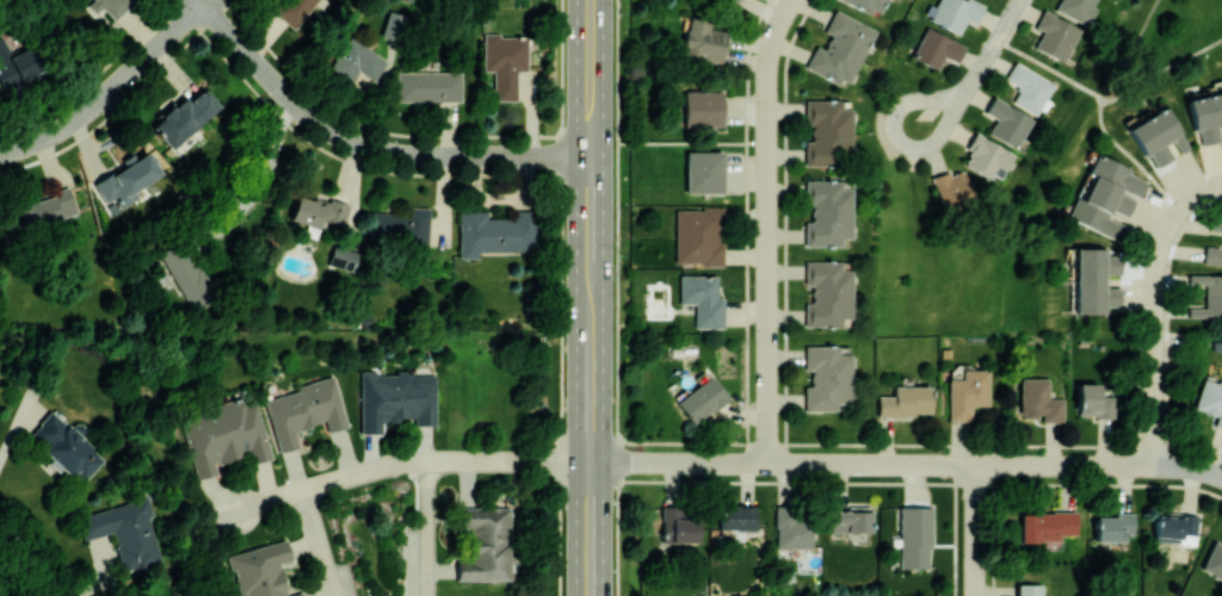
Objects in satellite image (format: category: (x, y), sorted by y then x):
road: (202, 1)
building: (732, 1)
building: (869, 5)
building: (112, 7)
building: (1076, 8)
building: (292, 10)
building: (953, 12)
road: (1011, 15)
building: (393, 24)
building: (1055, 35)
road: (776, 37)
road: (590, 38)
road: (998, 39)
building: (703, 41)
building: (840, 48)
building: (936, 48)
building: (357, 60)
building: (505, 62)
building: (18, 64)
road: (1159, 67)
road: (980, 70)
building: (428, 85)
building: (1029, 87)
road: (106, 88)
building: (1221, 97)
building: (703, 107)
road: (590, 108)
road: (769, 108)
road: (1099, 111)
road: (945, 113)
building: (184, 116)
building: (1205, 116)
building: (1006, 122)
building: (827, 132)
building: (1156, 135)
road: (681, 142)
road: (364, 145)
building: (987, 156)
building: (704, 170)
building: (126, 178)
road: (263, 179)
building: (951, 191)
building: (1106, 195)
road: (590, 203)
road: (769, 204)
building: (47, 207)
building: (317, 212)
building: (827, 212)
building: (401, 225)
building: (494, 231)
building: (698, 235)
building: (1212, 254)
building: (342, 256)
building: (1221, 260)
building: (187, 275)
building: (1094, 279)
building: (827, 292)
building: (1208, 294)
road: (561, 298)
road: (617, 298)
building: (702, 298)
road: (590, 299)
building: (1221, 306)
road: (1155, 311)
road: (769, 365)
building: (827, 378)
building: (968, 392)
building: (396, 398)
building: (701, 398)
building: (1210, 398)
building: (1039, 399)
building: (905, 401)
building: (1093, 401)
building: (304, 410)
building: (224, 436)
building: (66, 447)
road: (409, 461)
road: (858, 462)
road: (588, 464)
road: (1135, 466)
road: (1156, 466)
road: (1197, 468)
building: (736, 517)
building: (850, 520)
building: (679, 523)
building: (1047, 526)
building: (1113, 526)
road: (428, 528)
building: (792, 528)
road: (976, 530)
building: (125, 532)
building: (914, 536)
road: (319, 544)
building: (486, 544)
building: (1214, 558)
road: (30, 559)
building: (261, 570)
building: (1220, 571)
building: (1029, 589)

